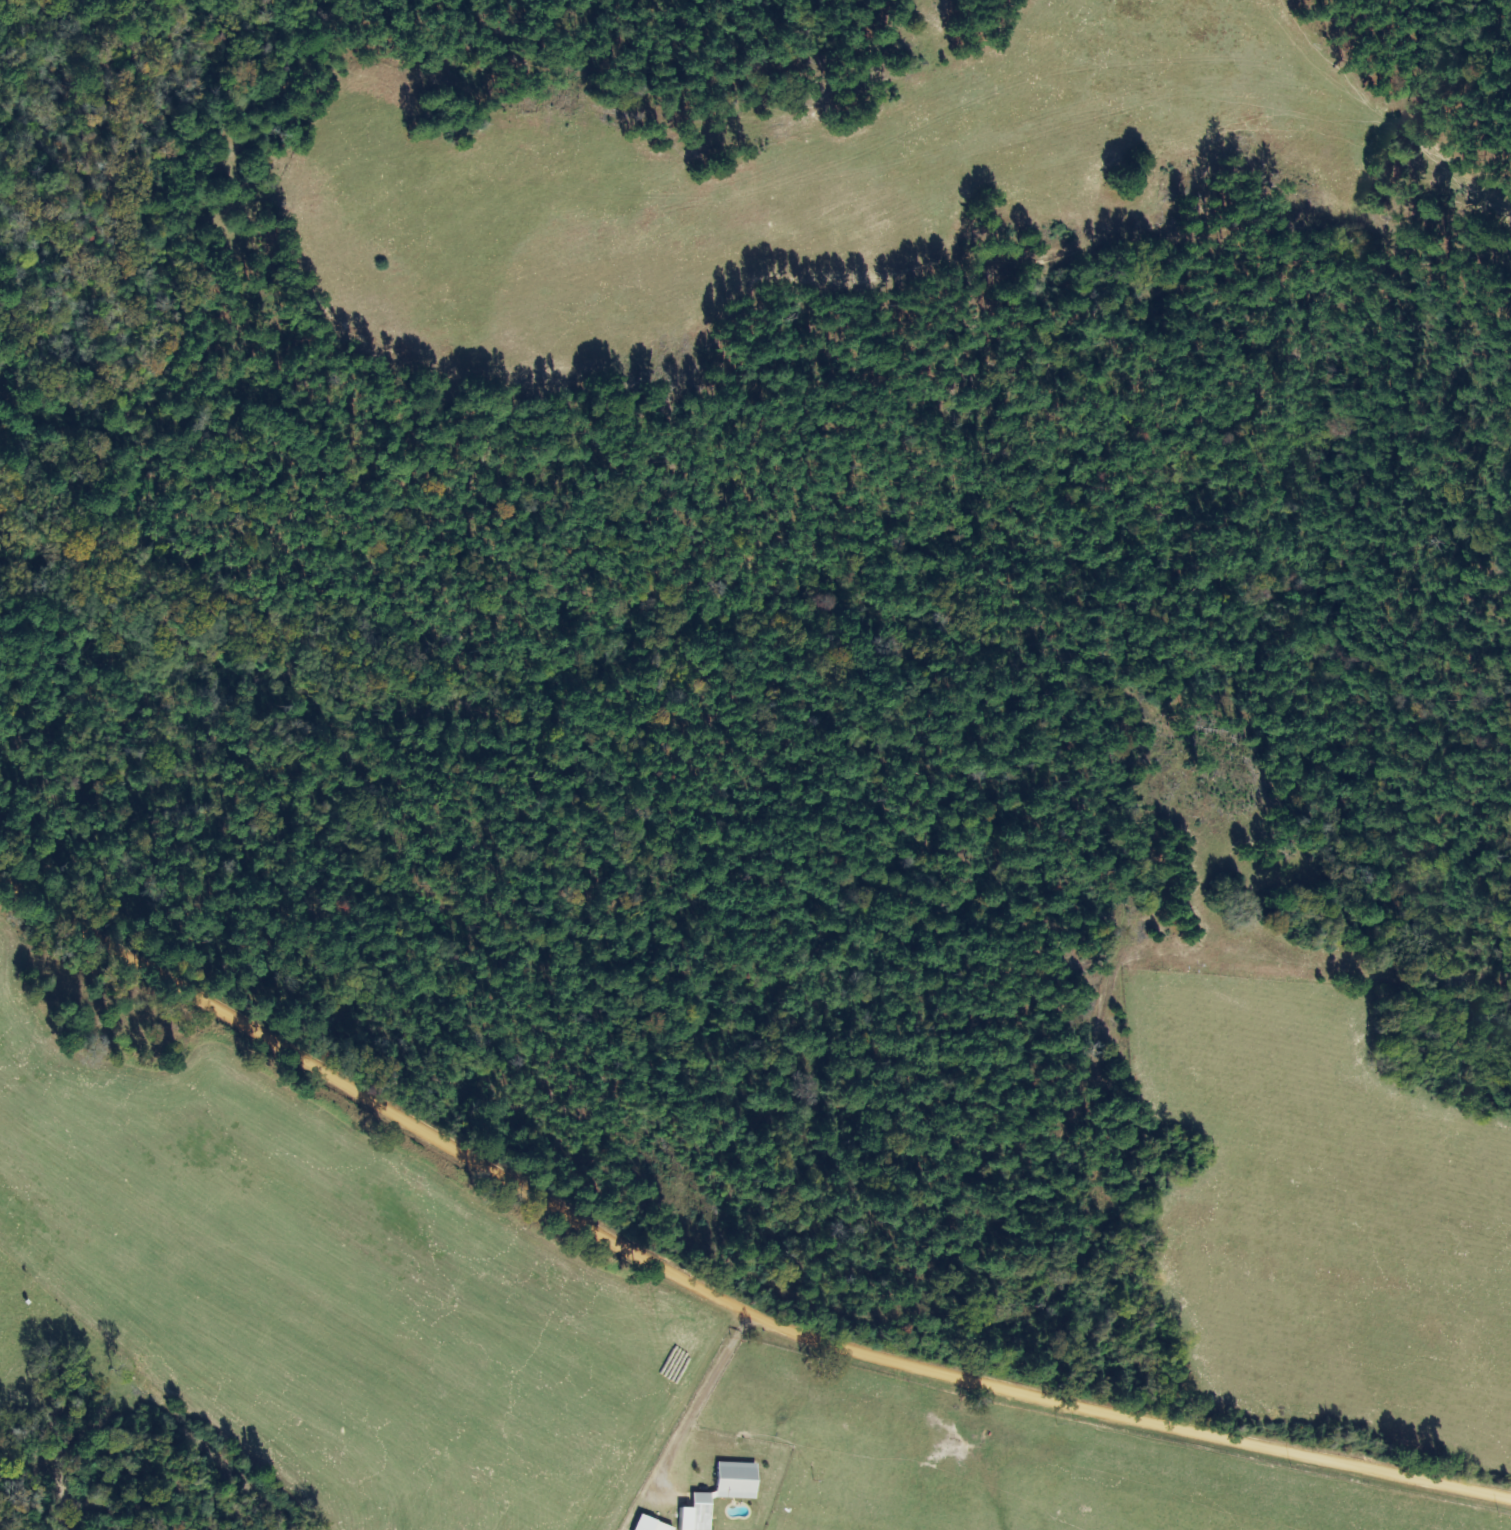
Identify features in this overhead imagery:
road: (710, 1294)
building: (733, 1481)
building: (695, 1514)
building: (648, 1524)

